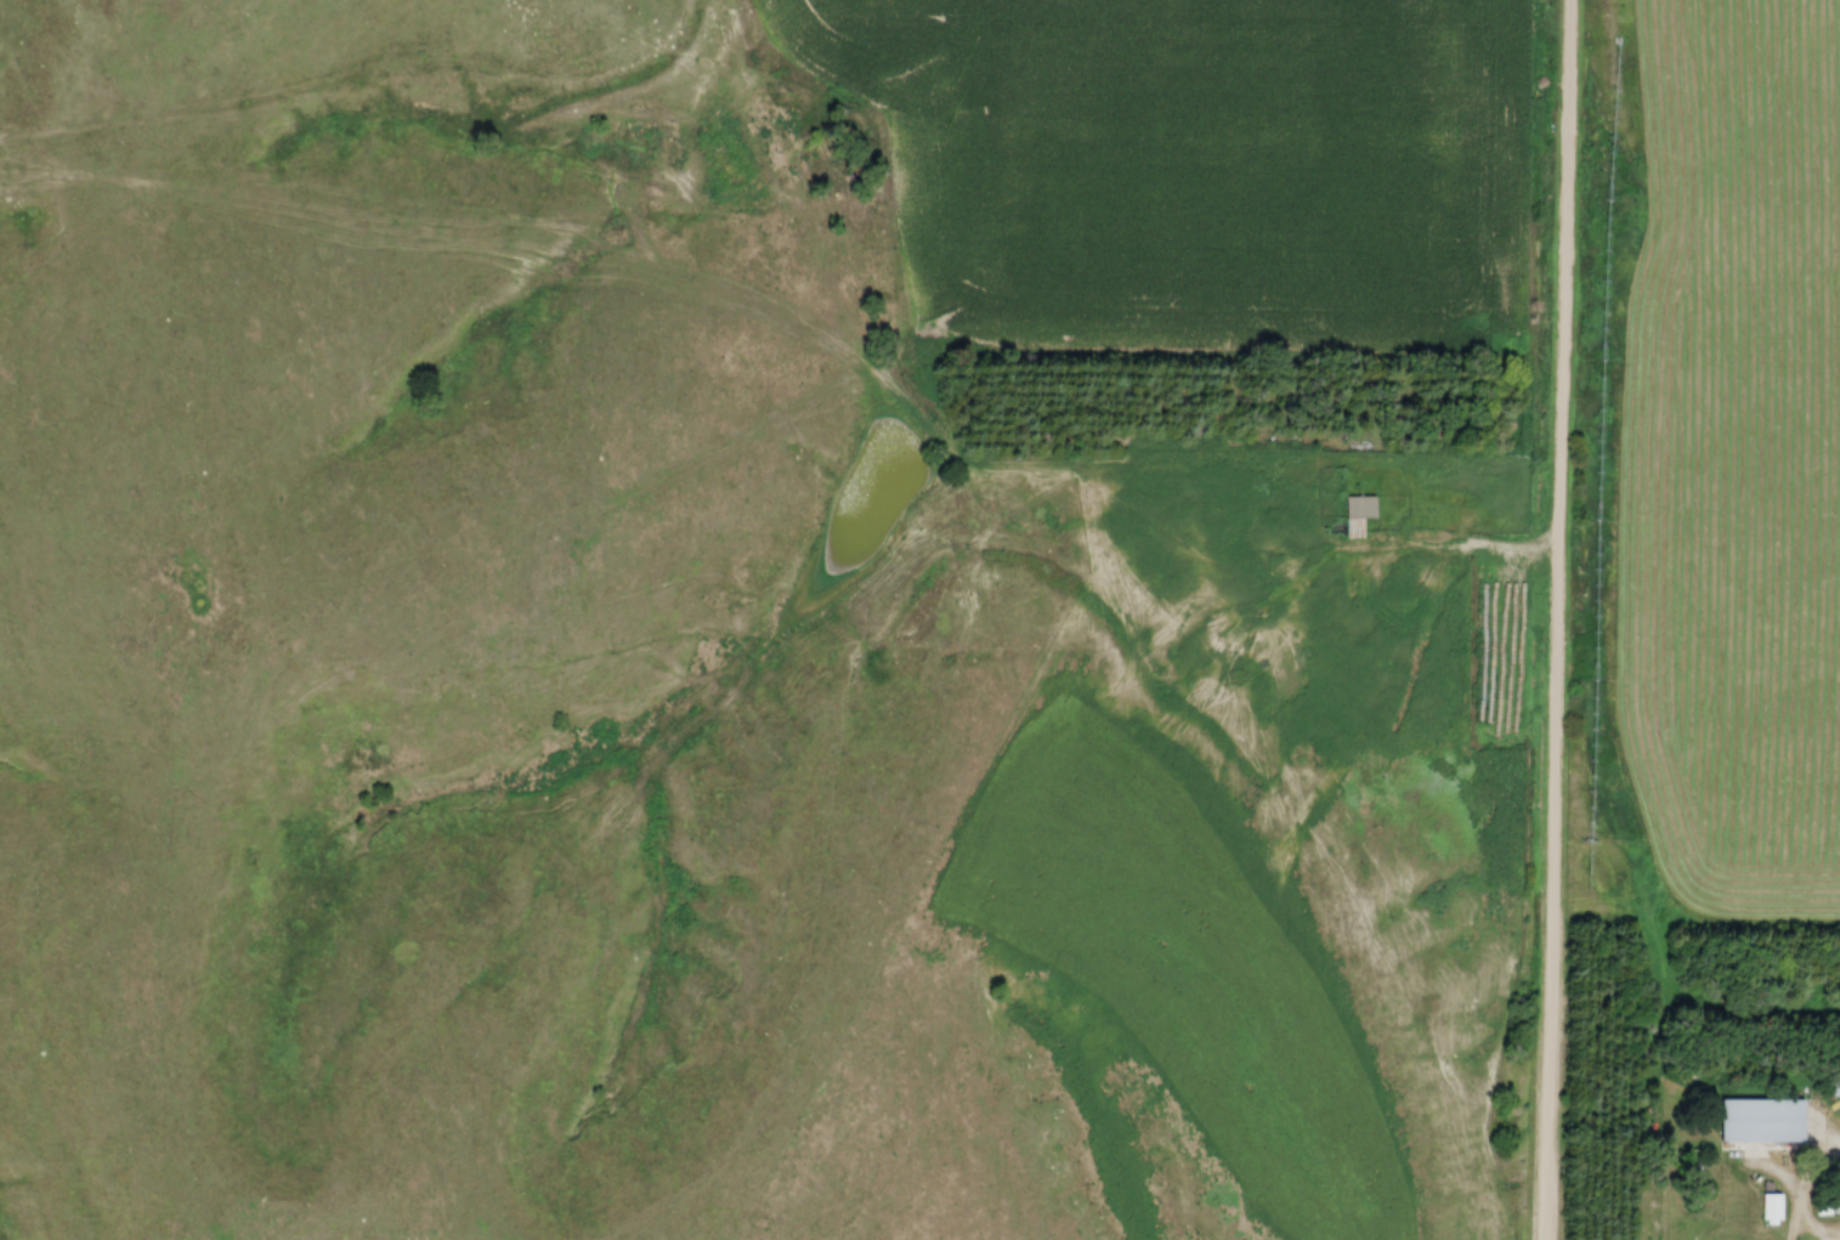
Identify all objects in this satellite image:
building: (1366, 508)
road: (1457, 544)
road: (1561, 619)
building: (1772, 1121)
building: (1777, 1207)

